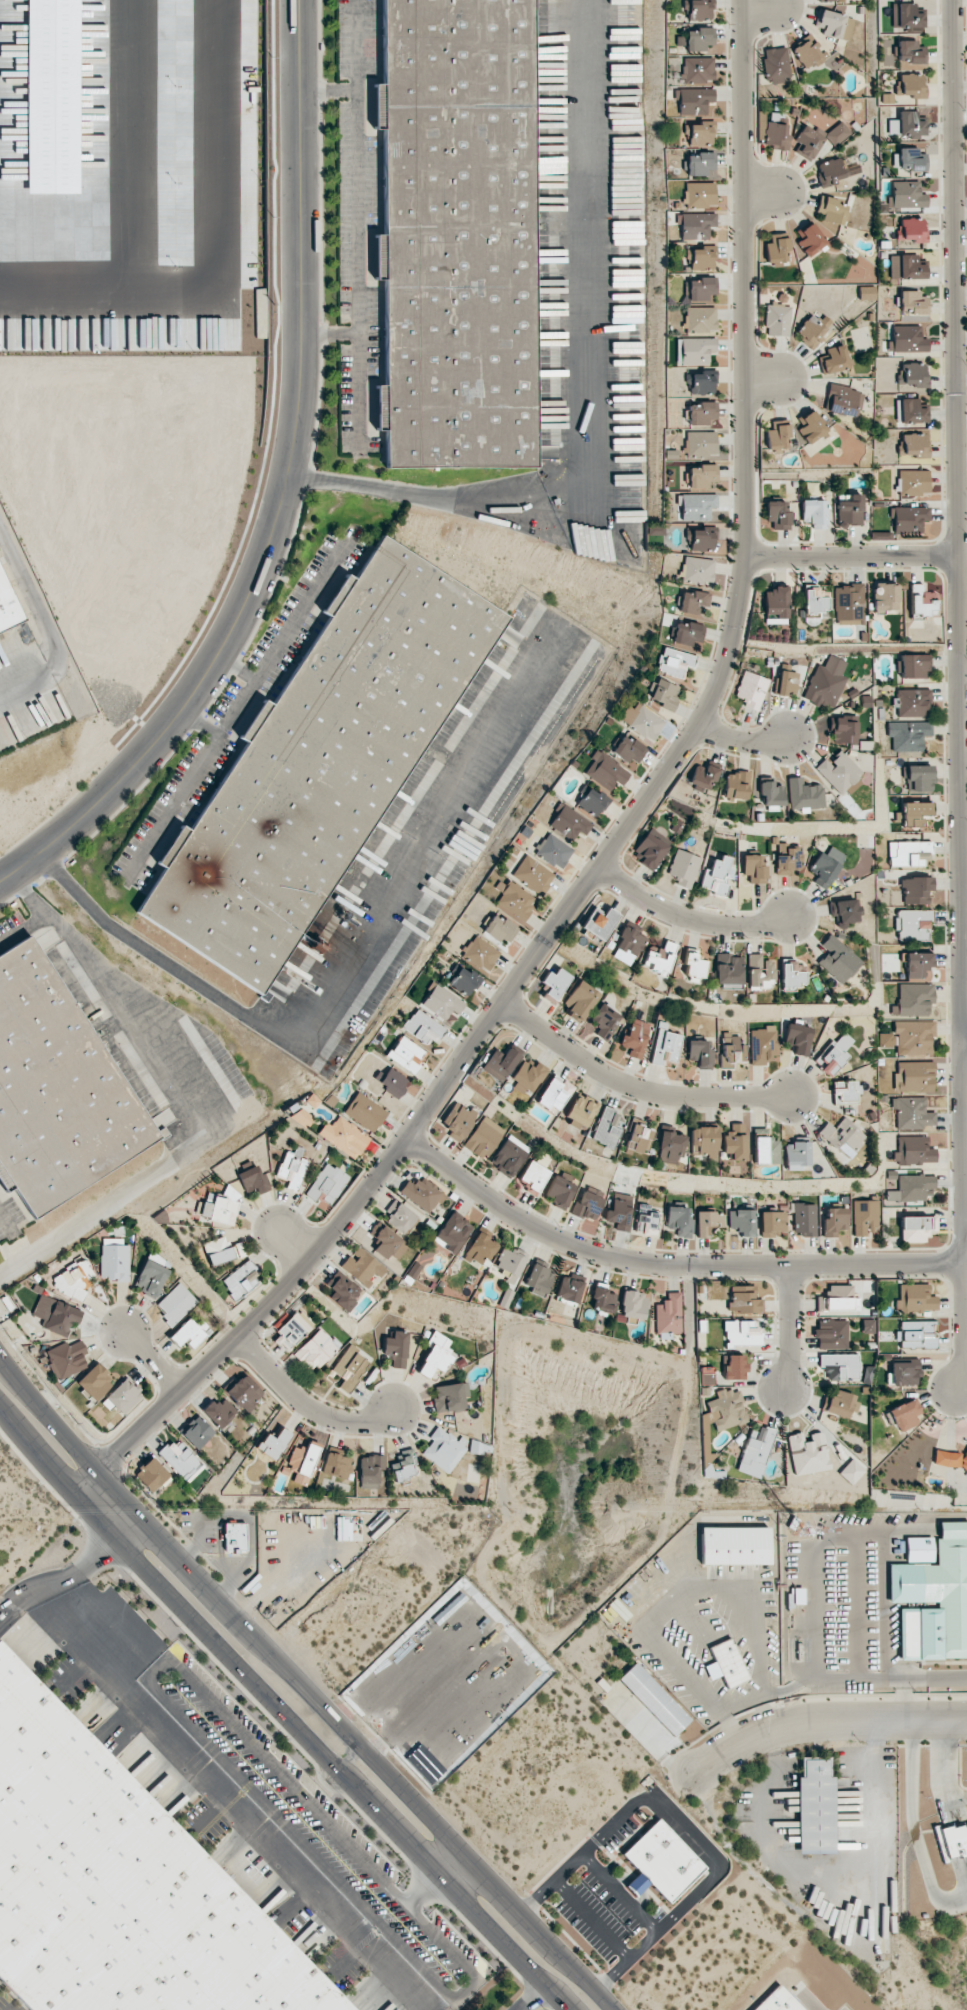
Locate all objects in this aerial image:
road: (768, 8)
building: (697, 9)
building: (907, 18)
building: (834, 24)
building: (699, 39)
building: (909, 52)
building: (807, 53)
building: (775, 64)
building: (697, 70)
building: (909, 85)
road: (328, 91)
building: (694, 101)
building: (906, 124)
building: (699, 133)
building: (837, 134)
building: (775, 135)
building: (807, 142)
building: (908, 159)
building: (697, 163)
road: (356, 167)
building: (831, 171)
road: (770, 192)
building: (698, 194)
building: (906, 195)
building: (830, 210)
building: (694, 225)
building: (910, 230)
building: (458, 234)
building: (809, 239)
building: (776, 249)
building: (699, 257)
building: (906, 267)
building: (699, 289)
building: (866, 293)
building: (911, 302)
building: (699, 319)
building: (777, 320)
building: (812, 329)
building: (907, 339)
building: (694, 350)
building: (834, 360)
road: (357, 366)
building: (912, 375)
road: (774, 380)
building: (700, 382)
road: (581, 385)
building: (843, 400)
building: (910, 411)
building: (700, 412)
building: (810, 427)
building: (777, 436)
building: (700, 443)
building: (913, 445)
building: (700, 476)
building: (913, 482)
road: (285, 491)
building: (697, 506)
building: (849, 509)
building: (814, 513)
building: (777, 514)
building: (906, 518)
building: (654, 530)
building: (879, 535)
building: (700, 539)
road: (852, 553)
building: (697, 571)
building: (884, 597)
building: (692, 601)
building: (920, 601)
building: (8, 603)
building: (848, 603)
building: (776, 604)
building: (814, 604)
road: (302, 609)
building: (687, 634)
building: (673, 662)
building: (912, 665)
building: (785, 682)
building: (826, 682)
road: (248, 688)
building: (751, 690)
building: (662, 693)
road: (958, 696)
building: (913, 702)
building: (644, 722)
building: (842, 731)
building: (908, 734)
road: (742, 740)
building: (627, 749)
building: (321, 763)
building: (604, 771)
building: (839, 773)
building: (702, 776)
building: (918, 778)
road: (184, 785)
building: (735, 785)
building: (770, 794)
building: (803, 795)
building: (591, 802)
building: (915, 813)
building: (568, 822)
road: (624, 830)
building: (649, 849)
building: (553, 851)
building: (909, 853)
building: (788, 861)
building: (826, 866)
building: (683, 868)
building: (754, 869)
building: (532, 875)
building: (716, 876)
building: (916, 890)
building: (513, 899)
building: (843, 912)
road: (43, 914)
road: (686, 914)
building: (599, 922)
building: (912, 924)
building: (499, 928)
building: (626, 946)
building: (480, 953)
building: (658, 958)
building: (837, 959)
building: (693, 964)
building: (917, 965)
building: (727, 968)
building: (757, 969)
building: (792, 973)
building: (464, 980)
building: (554, 985)
building: (913, 999)
building: (580, 1000)
building: (442, 1002)
road: (134, 1009)
building: (605, 1021)
building: (422, 1027)
building: (635, 1037)
building: (797, 1037)
building: (914, 1037)
building: (762, 1044)
road: (965, 1044)
building: (665, 1047)
building: (731, 1049)
building: (699, 1053)
building: (406, 1054)
building: (834, 1054)
building: (500, 1063)
building: (527, 1076)
building: (914, 1076)
building: (391, 1080)
road: (635, 1082)
building: (55, 1086)
building: (845, 1091)
building: (554, 1093)
building: (364, 1112)
building: (580, 1112)
building: (912, 1113)
building: (300, 1117)
building: (457, 1120)
building: (607, 1126)
building: (162, 1133)
building: (344, 1136)
building: (484, 1137)
building: (841, 1137)
building: (638, 1138)
building: (702, 1141)
building: (669, 1147)
building: (734, 1148)
building: (764, 1148)
building: (913, 1150)
building: (509, 1155)
building: (795, 1155)
building: (292, 1168)
building: (533, 1176)
building: (253, 1179)
building: (327, 1183)
building: (911, 1188)
building: (561, 1189)
building: (421, 1194)
building: (588, 1203)
building: (220, 1207)
building: (619, 1213)
building: (399, 1217)
building: (865, 1217)
building: (646, 1219)
building: (804, 1219)
building: (678, 1220)
building: (742, 1221)
building: (834, 1221)
road: (3, 1222)
building: (708, 1222)
building: (772, 1223)
building: (916, 1228)
building: (386, 1241)
road: (293, 1244)
building: (480, 1246)
building: (216, 1250)
building: (237, 1250)
building: (114, 1259)
building: (509, 1261)
road: (665, 1264)
building: (362, 1267)
building: (152, 1274)
building: (538, 1279)
building: (239, 1280)
building: (72, 1281)
building: (569, 1290)
building: (342, 1292)
building: (915, 1298)
building: (603, 1299)
building: (837, 1299)
building: (743, 1300)
building: (176, 1304)
building: (633, 1304)
building: (668, 1315)
building: (59, 1317)
building: (867, 1326)
road: (785, 1328)
building: (292, 1330)
building: (741, 1333)
building: (187, 1334)
building: (831, 1334)
building: (915, 1334)
building: (396, 1348)
building: (316, 1349)
building: (435, 1354)
building: (66, 1359)
road: (153, 1362)
building: (841, 1364)
building: (349, 1367)
building: (735, 1367)
building: (903, 1373)
building: (94, 1381)
building: (244, 1392)
building: (123, 1396)
building: (450, 1397)
building: (839, 1403)
road: (308, 1404)
building: (725, 1410)
building: (219, 1412)
building: (904, 1414)
building: (196, 1431)
building: (273, 1443)
building: (443, 1449)
building: (755, 1452)
building: (809, 1453)
building: (950, 1459)
building: (181, 1460)
building: (302, 1461)
building: (336, 1465)
building: (403, 1465)
building: (852, 1469)
building: (369, 1471)
building: (151, 1474)
road: (131, 1529)
building: (235, 1537)
building: (735, 1545)
building: (918, 1549)
road: (60, 1576)
building: (934, 1599)
building: (725, 1664)
road: (916, 1677)
road: (302, 1686)
building: (654, 1699)
road: (282, 1708)
road: (822, 1720)
building: (815, 1805)
road: (243, 1809)
building: (953, 1840)
building: (661, 1862)
road: (458, 1871)
building: (117, 1887)
road: (533, 1998)
building: (778, 2001)
road: (811, 2003)

